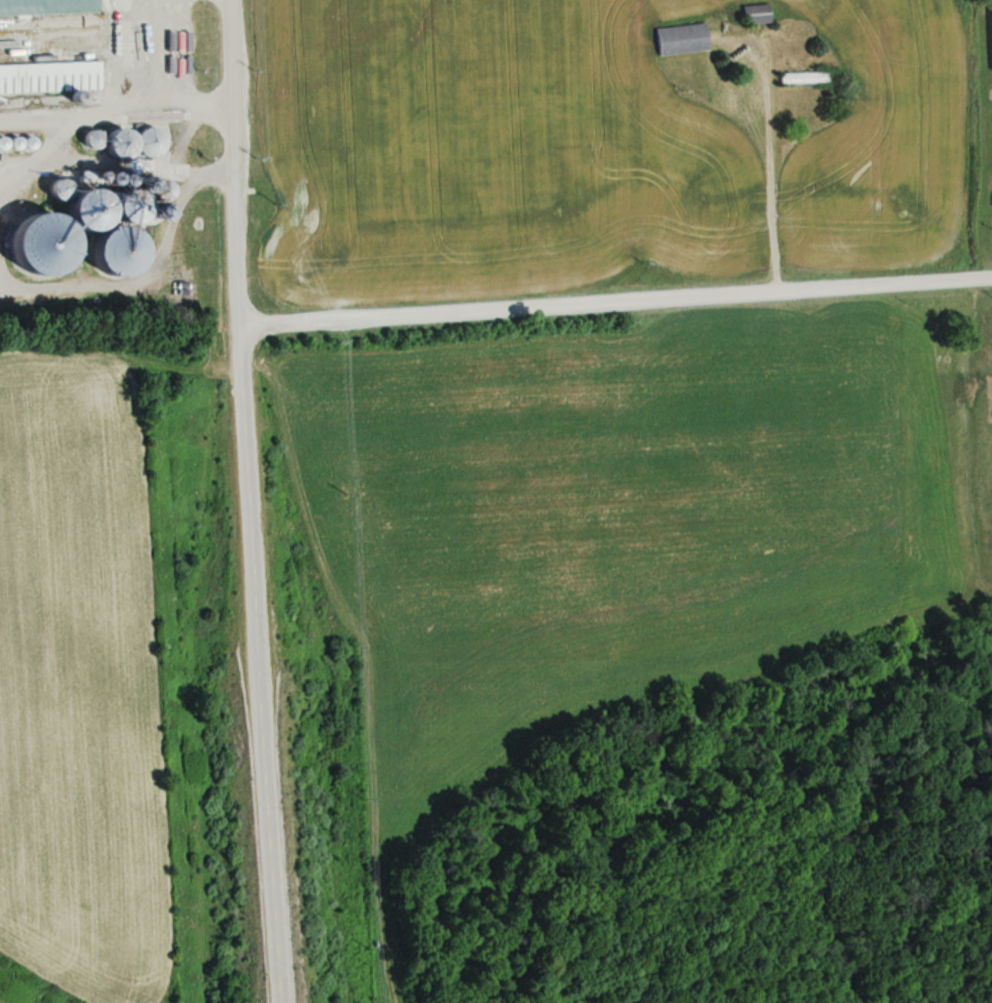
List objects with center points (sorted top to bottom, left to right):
building: (46, 7)
building: (991, 13)
building: (756, 14)
building: (680, 38)
building: (49, 76)
building: (803, 77)
road: (228, 80)
building: (90, 138)
building: (148, 141)
building: (120, 142)
road: (762, 158)
building: (130, 205)
building: (88, 208)
building: (45, 243)
building: (118, 250)
road: (615, 294)
road: (254, 582)

